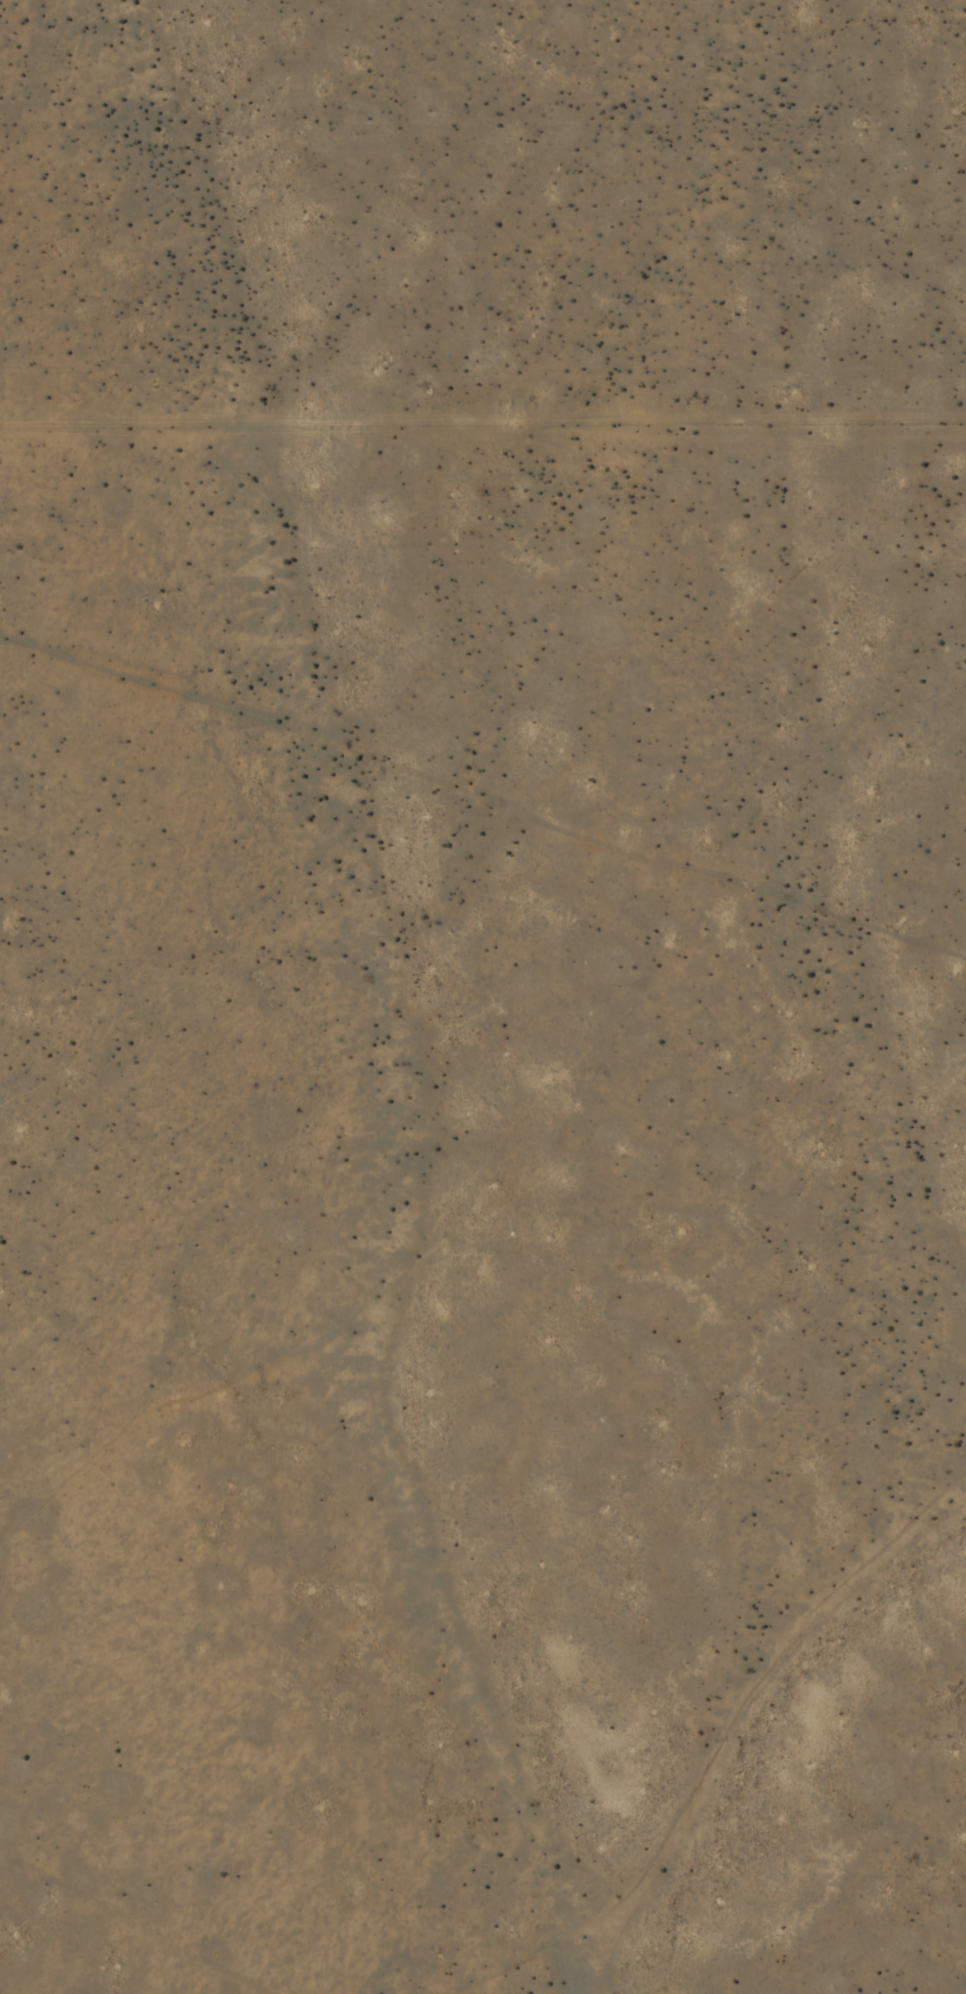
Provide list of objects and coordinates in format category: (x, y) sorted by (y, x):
road: (184, 1856)

